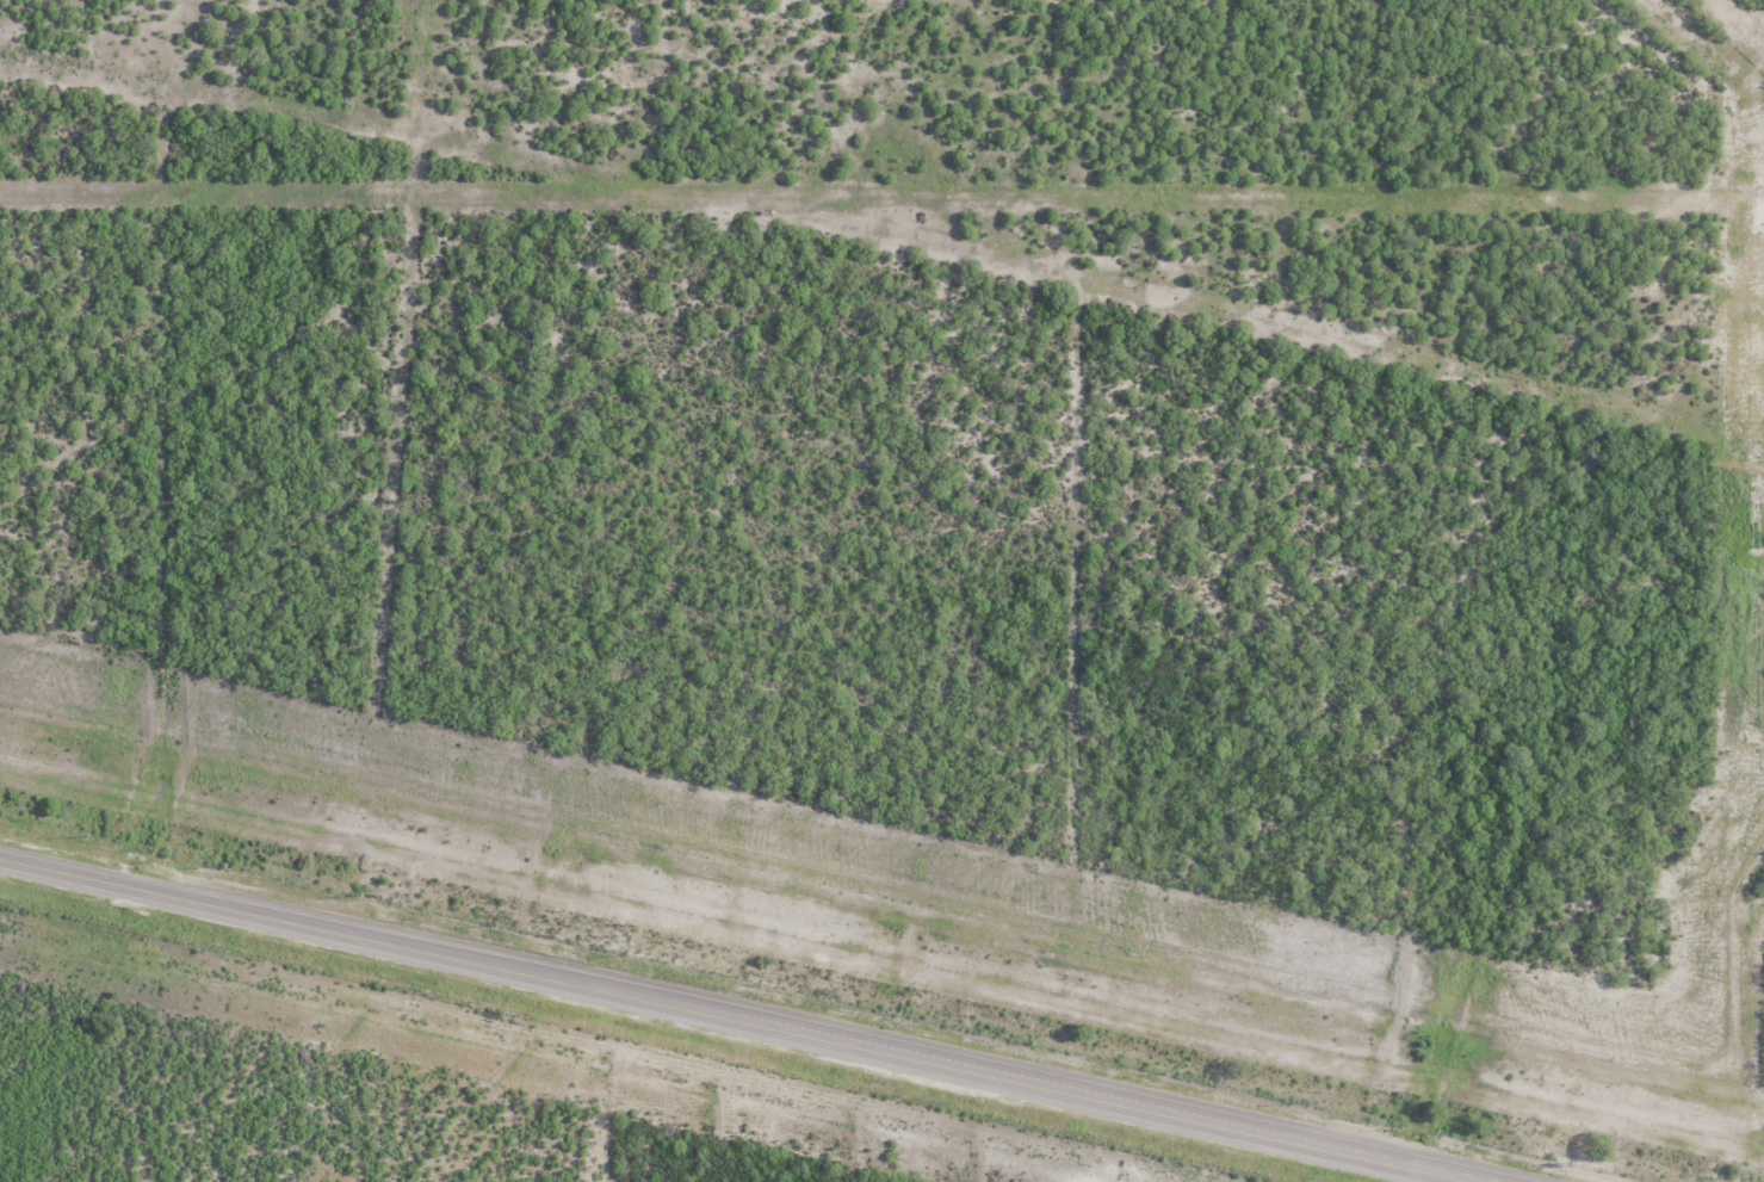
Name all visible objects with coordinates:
road: (729, 1021)

